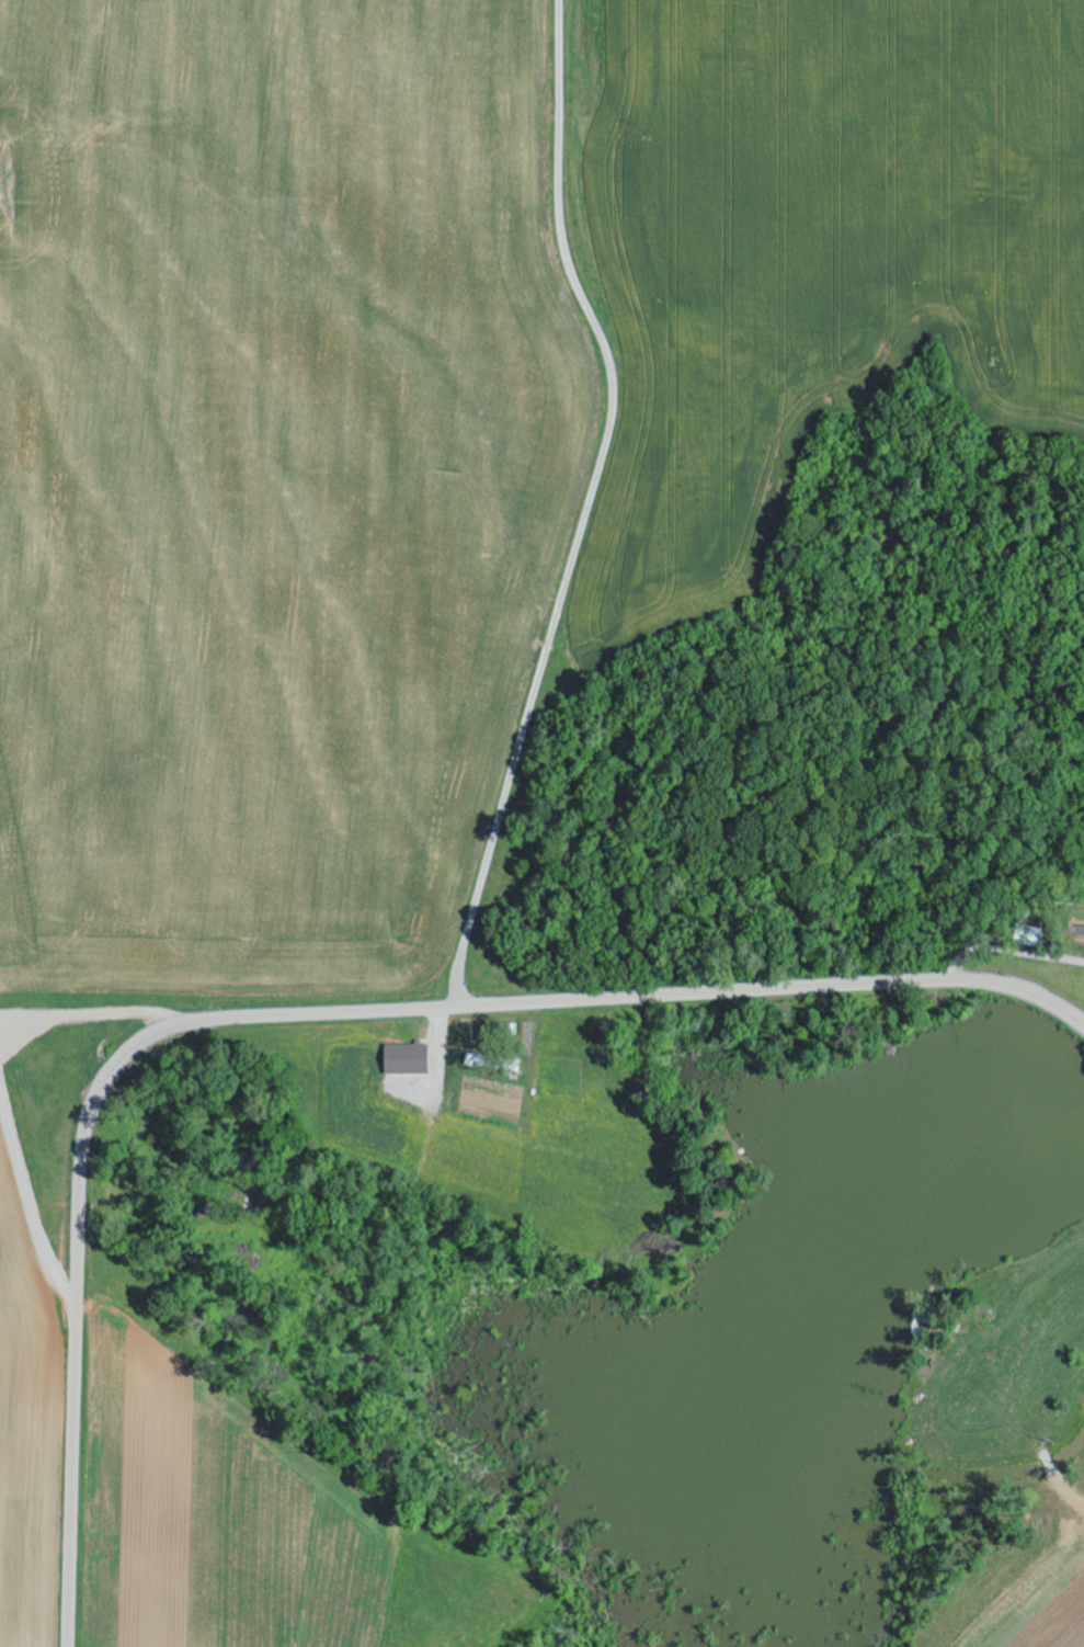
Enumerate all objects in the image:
road: (591, 506)
road: (305, 1014)
building: (404, 1059)
building: (475, 1060)

